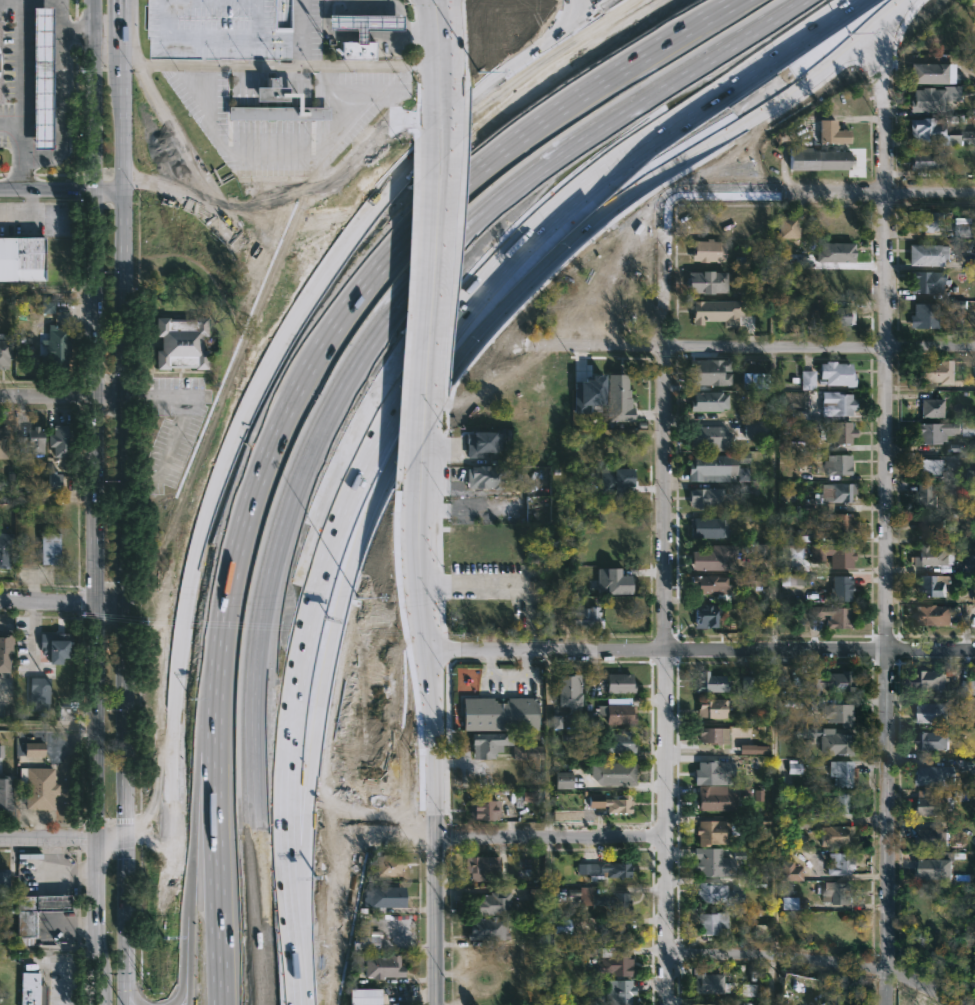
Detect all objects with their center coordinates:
road: (379, 2)
road: (394, 6)
road: (62, 15)
road: (91, 15)
building: (363, 24)
gas station: (363, 24)
parking lot: (221, 29)
road: (77, 30)
road: (303, 32)
building: (355, 50)
road: (437, 56)
building: (971, 63)
road: (287, 64)
building: (929, 74)
building: (41, 78)
gas station: (41, 78)
road: (21, 94)
building: (933, 99)
building: (268, 100)
road: (62, 111)
road: (11, 126)
building: (926, 128)
road: (454, 131)
building: (831, 133)
building: (967, 138)
building: (819, 159)
building: (925, 161)
road: (282, 162)
road: (111, 186)
road: (48, 189)
road: (876, 194)
road: (723, 198)
road: (25, 213)
building: (926, 221)
building: (789, 227)
building: (964, 227)
building: (711, 249)
building: (838, 251)
building: (930, 254)
building: (22, 259)
road: (356, 275)
road: (432, 280)
building: (929, 280)
building: (709, 281)
road: (49, 292)
building: (47, 308)
building: (715, 312)
building: (924, 315)
building: (839, 316)
road: (287, 329)
building: (181, 342)
building: (56, 346)
building: (5, 348)
road: (748, 352)
building: (937, 370)
building: (710, 371)
building: (974, 372)
building: (828, 374)
building: (756, 381)
building: (587, 393)
road: (421, 394)
building: (618, 398)
road: (62, 399)
road: (160, 399)
building: (709, 400)
road: (323, 402)
building: (838, 403)
building: (932, 407)
road: (389, 409)
building: (968, 428)
building: (755, 429)
building: (932, 431)
road: (98, 432)
building: (839, 432)
building: (711, 437)
building: (30, 440)
building: (59, 440)
building: (485, 442)
building: (3, 444)
road: (168, 454)
building: (840, 464)
building: (714, 467)
building: (926, 467)
building: (742, 474)
building: (971, 475)
building: (485, 476)
building: (614, 480)
building: (53, 482)
building: (836, 492)
building: (923, 495)
building: (708, 497)
road: (125, 502)
road: (773, 503)
road: (888, 512)
building: (751, 515)
building: (841, 523)
building: (926, 525)
building: (708, 527)
building: (972, 535)
building: (50, 548)
building: (5, 549)
building: (761, 552)
building: (791, 552)
building: (832, 554)
building: (930, 555)
building: (714, 557)
building: (970, 564)
building: (751, 580)
building: (792, 580)
building: (612, 581)
building: (710, 585)
building: (930, 585)
road: (505, 587)
building: (841, 588)
building: (973, 596)
road: (668, 601)
road: (62, 604)
building: (930, 614)
building: (706, 615)
building: (833, 615)
building: (587, 616)
building: (57, 646)
building: (6, 651)
road: (703, 655)
building: (931, 680)
building: (709, 682)
building: (619, 683)
building: (830, 683)
building: (968, 687)
building: (570, 690)
building: (40, 693)
building: (712, 708)
building: (618, 711)
building: (929, 711)
building: (500, 713)
building: (839, 713)
road: (434, 725)
building: (713, 735)
building: (930, 740)
building: (619, 742)
building: (837, 743)
building: (491, 744)
building: (753, 749)
building: (34, 750)
building: (0, 751)
building: (527, 752)
building: (969, 765)
building: (794, 768)
building: (713, 772)
building: (843, 772)
building: (616, 773)
building: (931, 775)
building: (563, 780)
building: (39, 787)
building: (5, 793)
building: (758, 795)
building: (528, 796)
building: (715, 798)
building: (931, 802)
building: (610, 803)
building: (842, 803)
building: (486, 808)
road: (774, 808)
building: (714, 832)
building: (838, 835)
road: (47, 836)
traffic signals: (96, 836)
road: (108, 836)
traffic signals: (120, 836)
road: (550, 838)
building: (932, 838)
road: (184, 839)
building: (841, 863)
building: (713, 864)
building: (937, 864)
road: (51, 865)
building: (389, 865)
building: (482, 866)
building: (606, 869)
building: (790, 872)
road: (74, 875)
building: (4, 883)
building: (714, 893)
building: (843, 893)
building: (384, 897)
building: (604, 900)
building: (788, 903)
road: (52, 904)
building: (491, 904)
building: (36, 910)
building: (959, 918)
road: (96, 920)
road: (546, 921)
building: (711, 923)
building: (561, 926)
building: (362, 928)
building: (487, 929)
road: (64, 931)
building: (842, 933)
building: (613, 934)
building: (365, 943)
road: (47, 949)
building: (615, 961)
road: (824, 965)
building: (383, 967)
road: (64, 968)
building: (709, 982)
road: (769, 983)
road: (80, 987)
building: (31, 990)
building: (748, 990)
building: (621, 992)
building: (365, 997)
building: (703, 1004)

